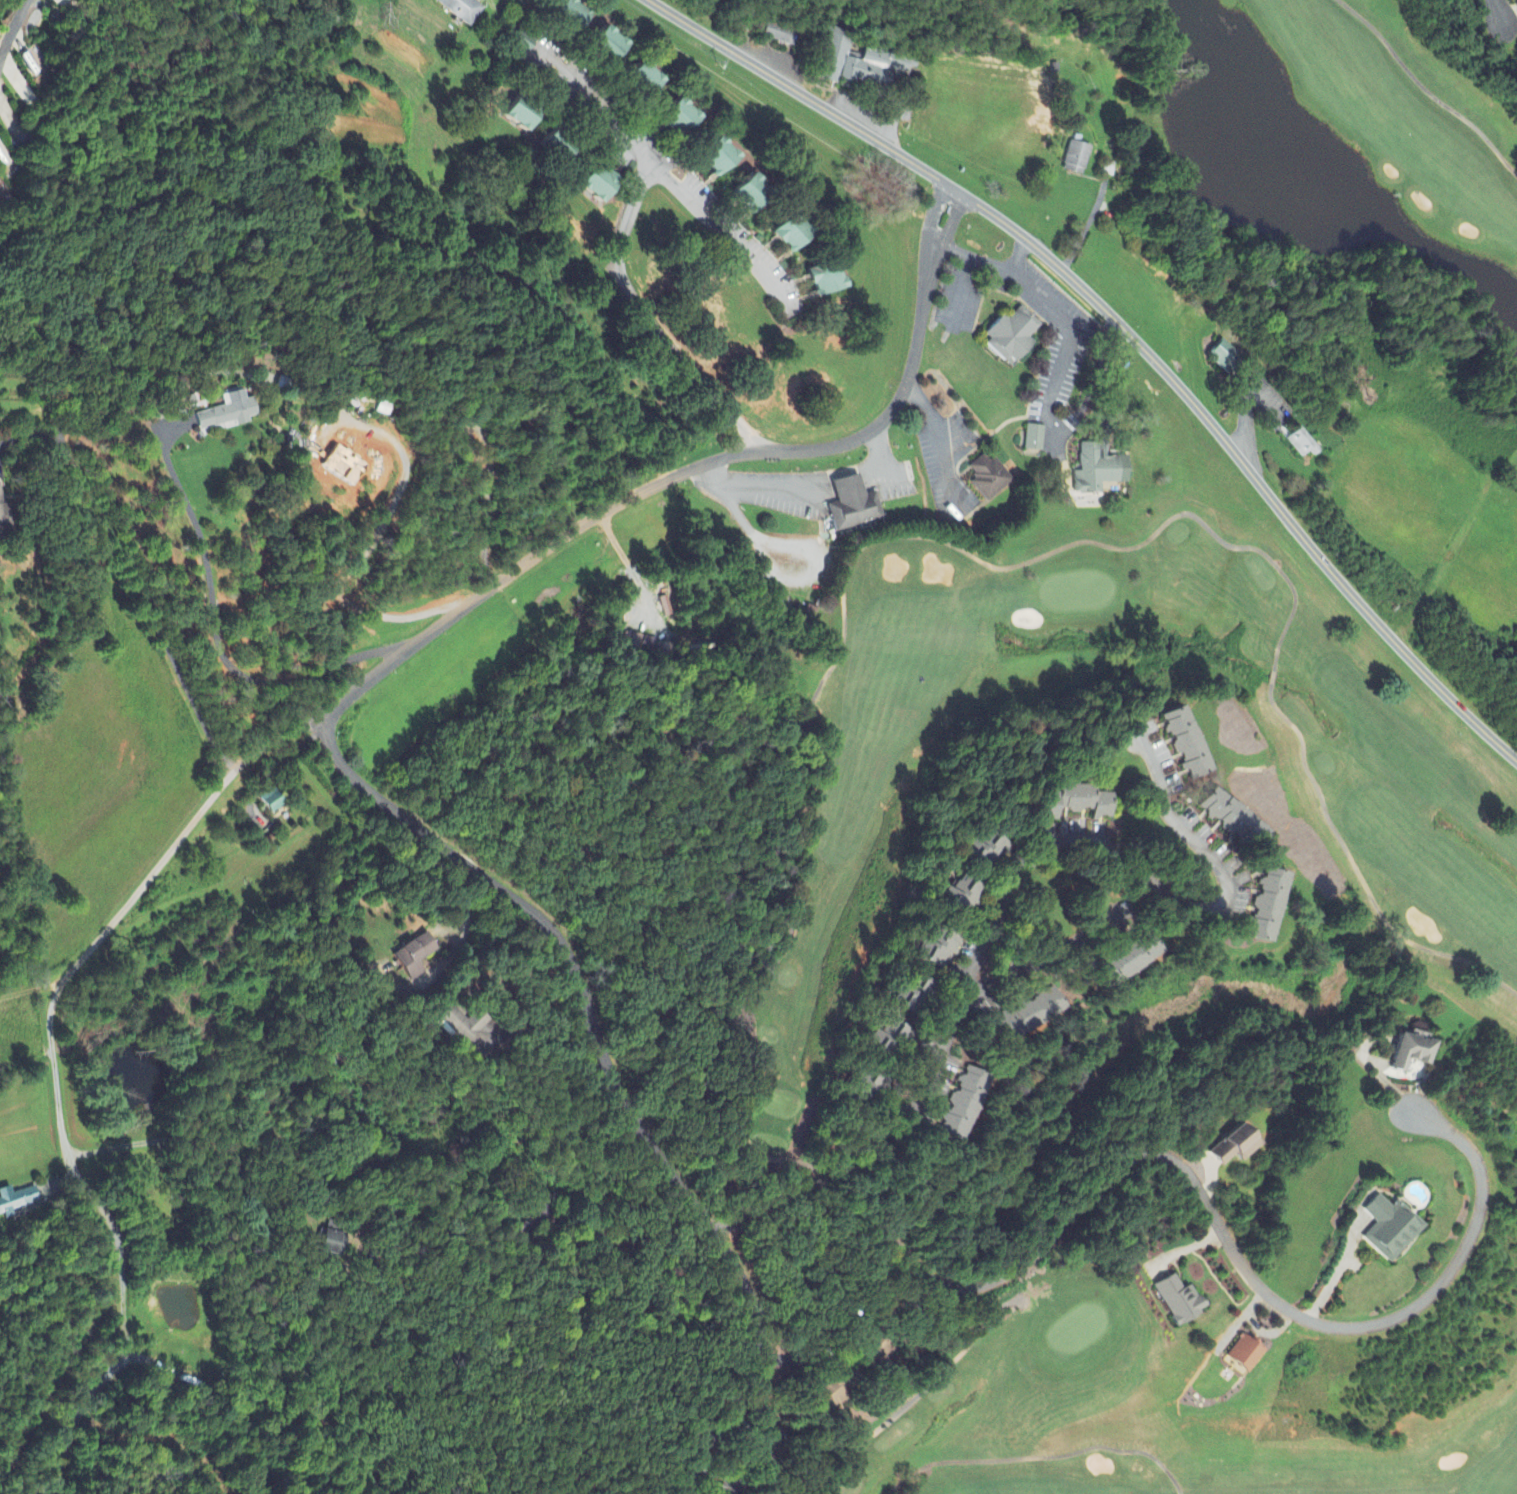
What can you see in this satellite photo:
building: (460, 10)
road: (1496, 12)
building: (570, 16)
road: (1509, 17)
road: (12, 31)
building: (779, 34)
building: (608, 45)
building: (856, 62)
building: (643, 80)
building: (521, 116)
building: (679, 119)
park: (1385, 134)
building: (558, 149)
building: (717, 157)
building: (1076, 159)
road: (669, 177)
building: (598, 184)
building: (3, 193)
building: (751, 194)
building: (790, 233)
road: (989, 265)
building: (824, 279)
road: (651, 323)
road: (1063, 329)
road: (1130, 334)
building: (1012, 336)
building: (1225, 356)
road: (1247, 409)
building: (227, 414)
road: (939, 438)
building: (1034, 439)
building: (1302, 444)
building: (1098, 470)
building: (989, 477)
road: (813, 481)
building: (853, 505)
building: (665, 607)
building: (642, 643)
building: (1186, 743)
road: (331, 750)
building: (272, 801)
building: (1076, 803)
building: (1234, 820)
building: (986, 850)
road: (1138, 874)
building: (965, 896)
building: (1267, 907)
road: (111, 922)
road: (467, 926)
building: (938, 949)
building: (413, 957)
building: (1128, 961)
road: (1028, 975)
park: (1148, 989)
building: (914, 995)
building: (1029, 1014)
building: (471, 1030)
building: (890, 1038)
building: (1412, 1051)
road: (1377, 1072)
building: (961, 1105)
building: (1234, 1147)
road: (863, 1161)
building: (16, 1201)
road: (1216, 1219)
building: (1391, 1229)
building: (1179, 1302)
road: (808, 1346)
building: (1245, 1354)

